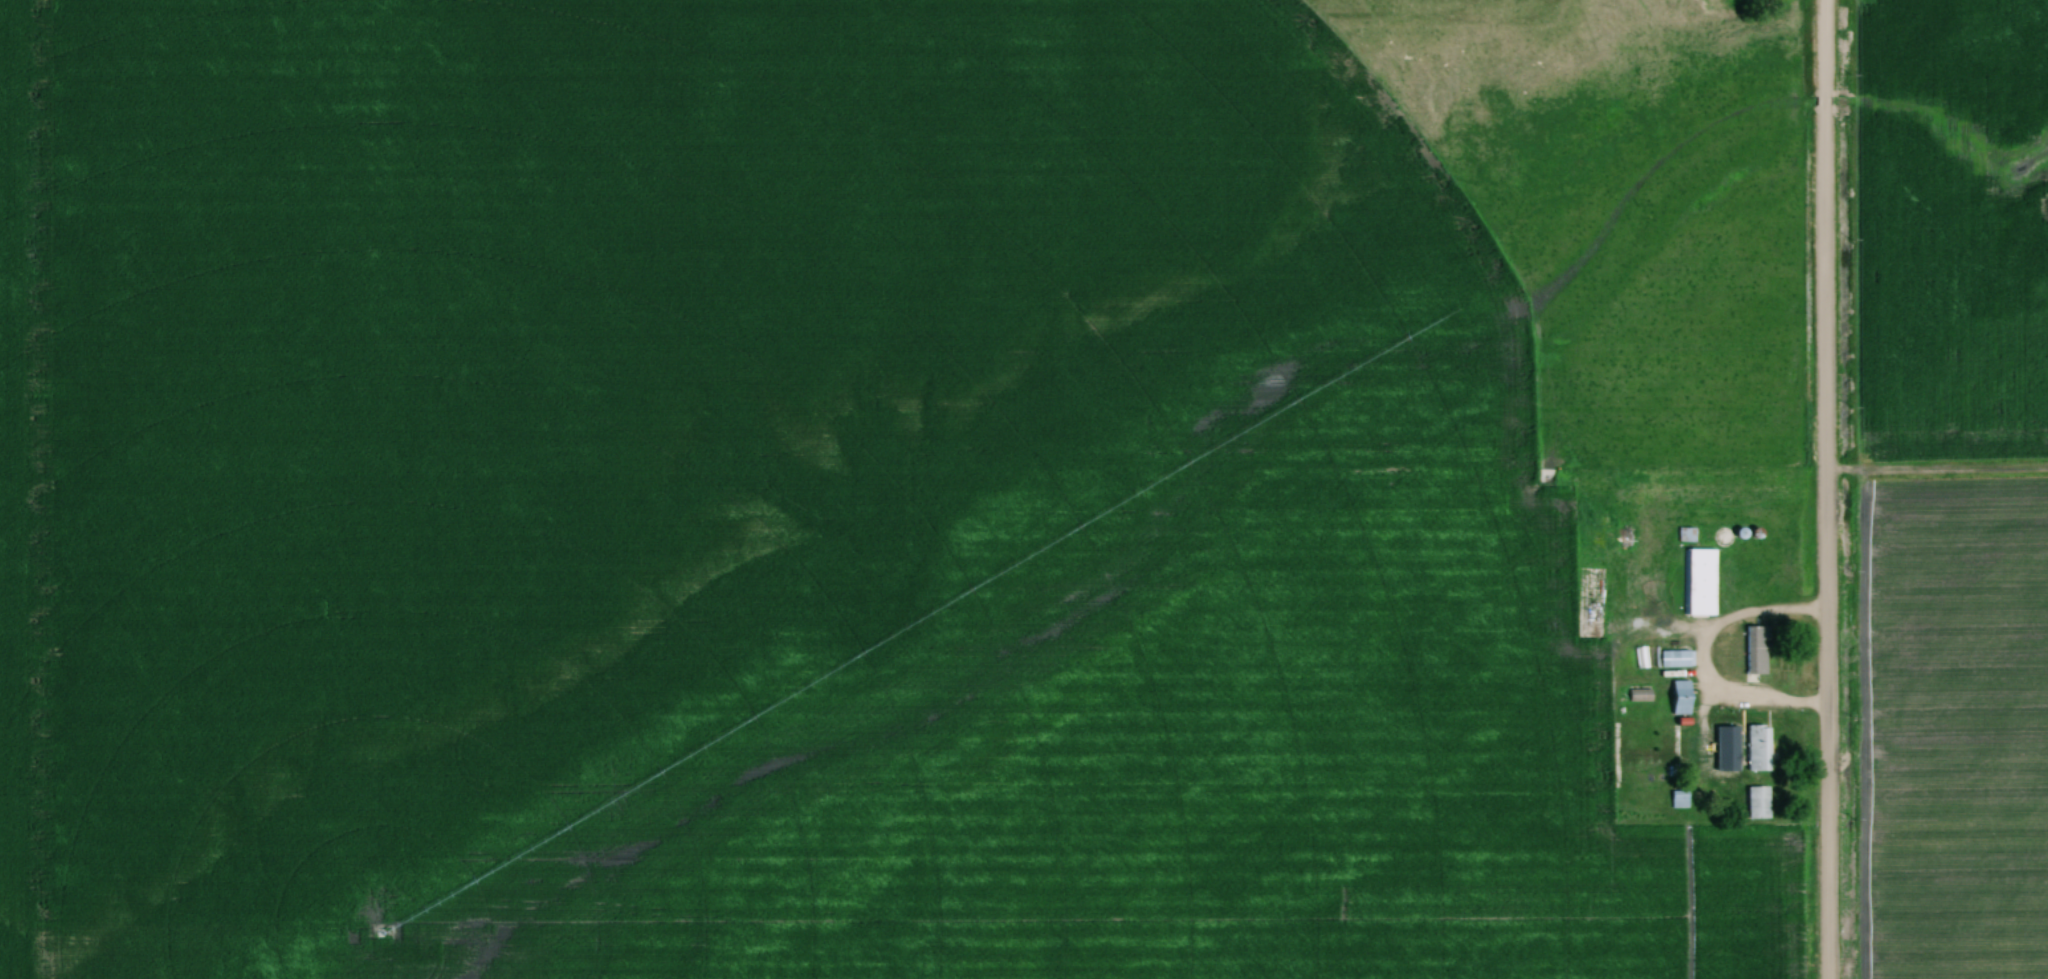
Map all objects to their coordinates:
road: (1824, 489)
building: (1699, 583)
building: (1754, 651)
building: (1673, 660)
road: (1700, 660)
building: (1677, 699)
building: (1755, 749)
building: (1677, 801)
building: (1755, 803)

